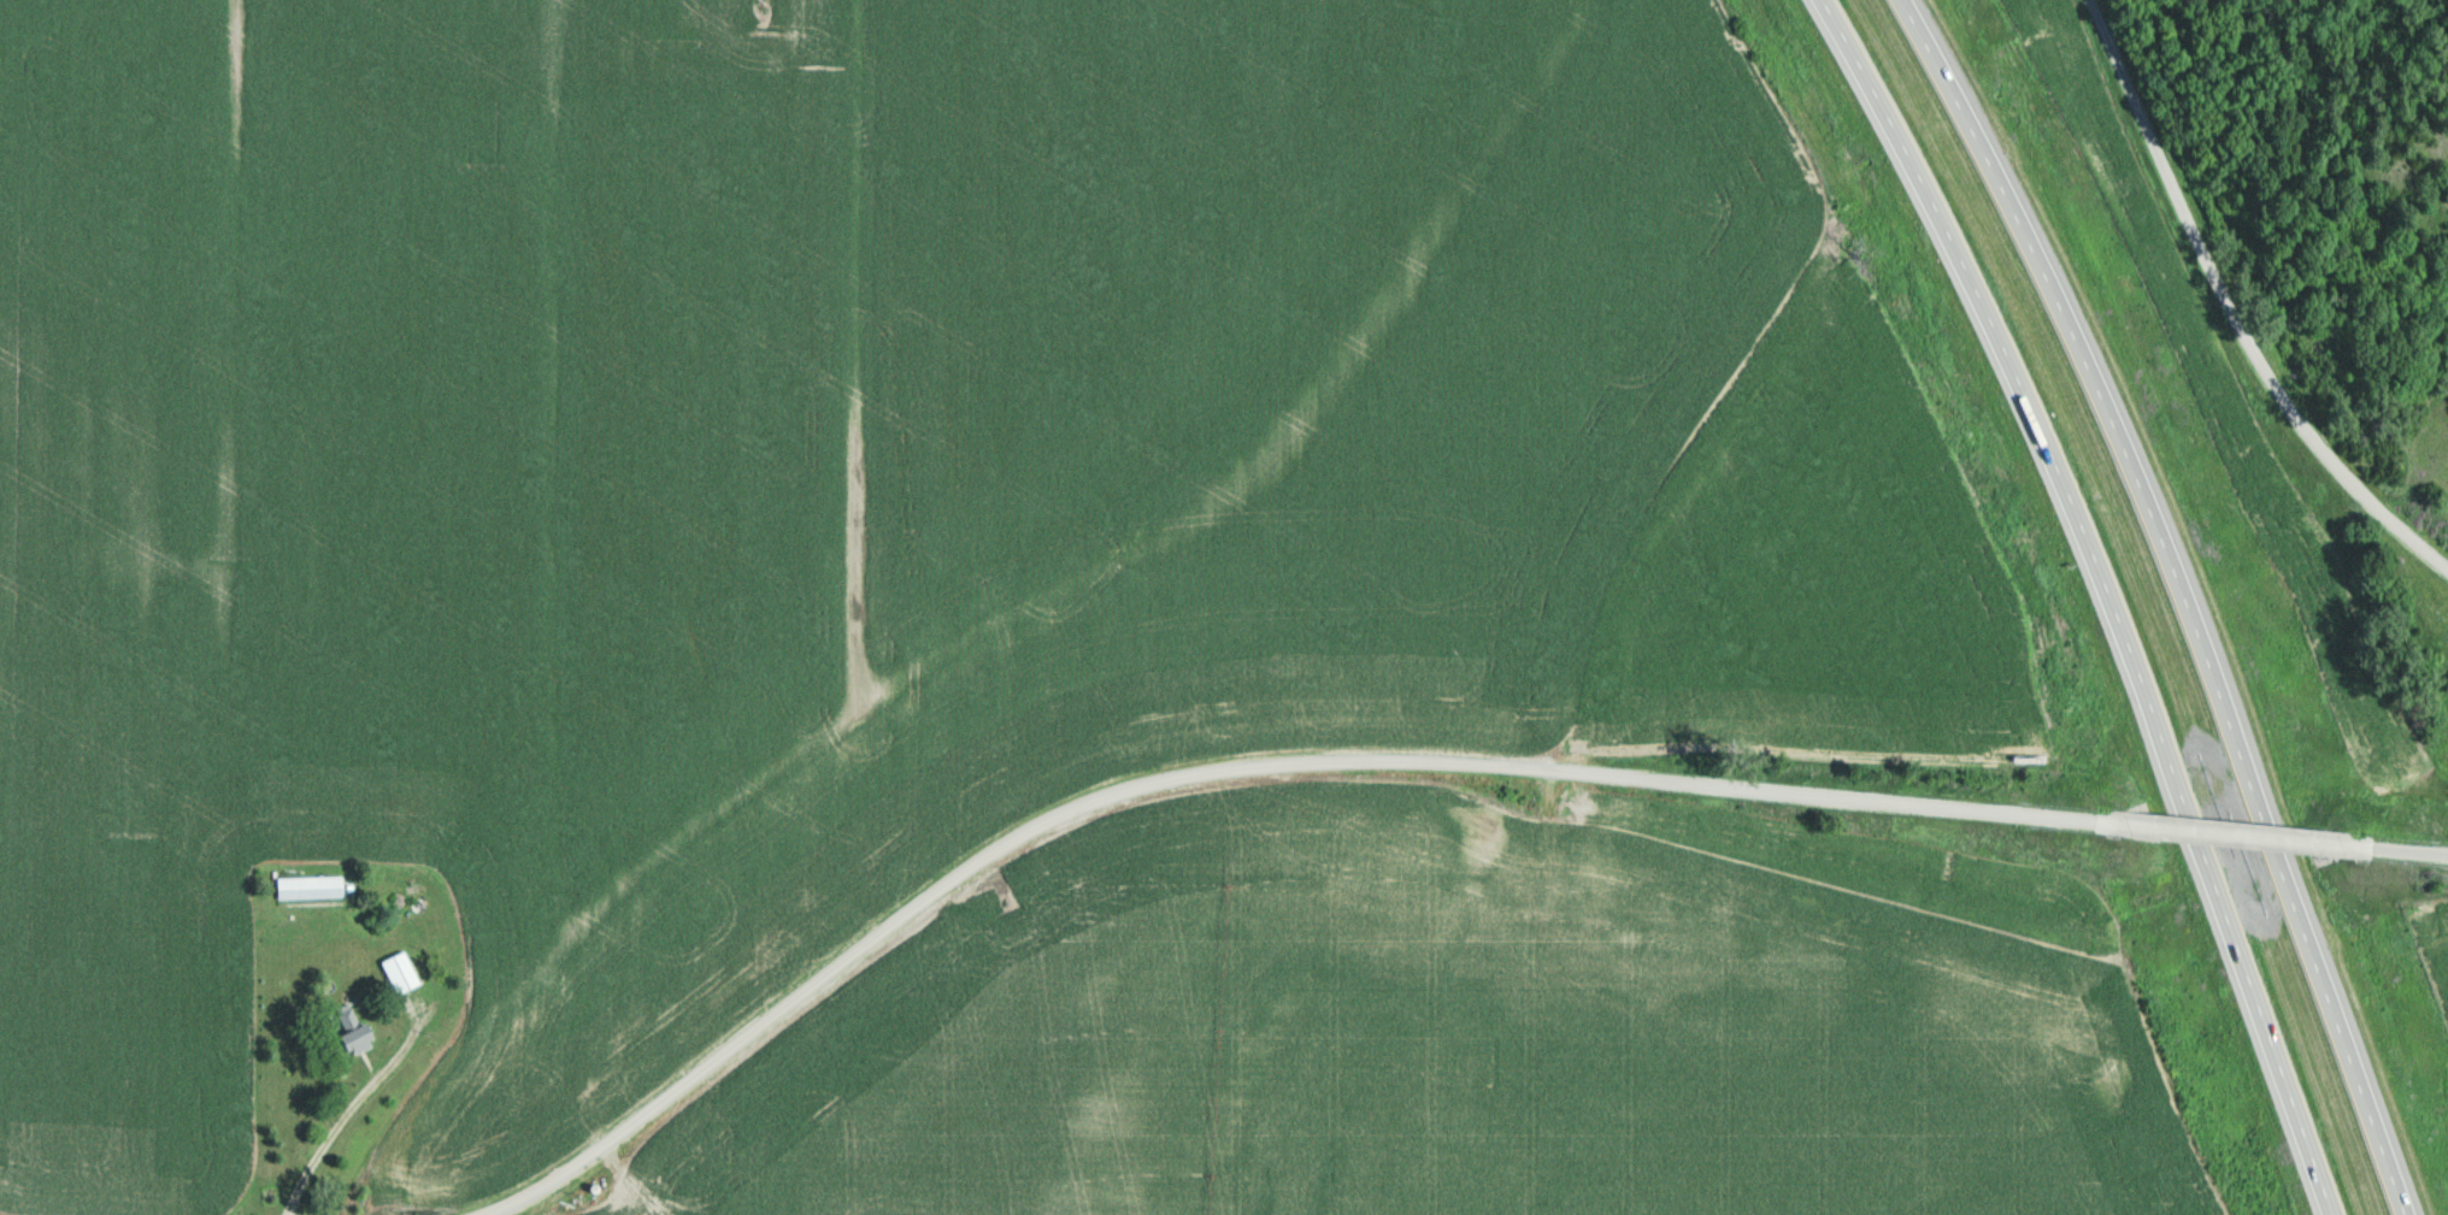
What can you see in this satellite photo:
road: (2232, 309)
road: (2109, 595)
road: (2187, 597)
road: (1231, 767)
road: (2236, 832)
road: (2405, 847)
building: (312, 886)
building: (404, 972)
building: (358, 1030)

